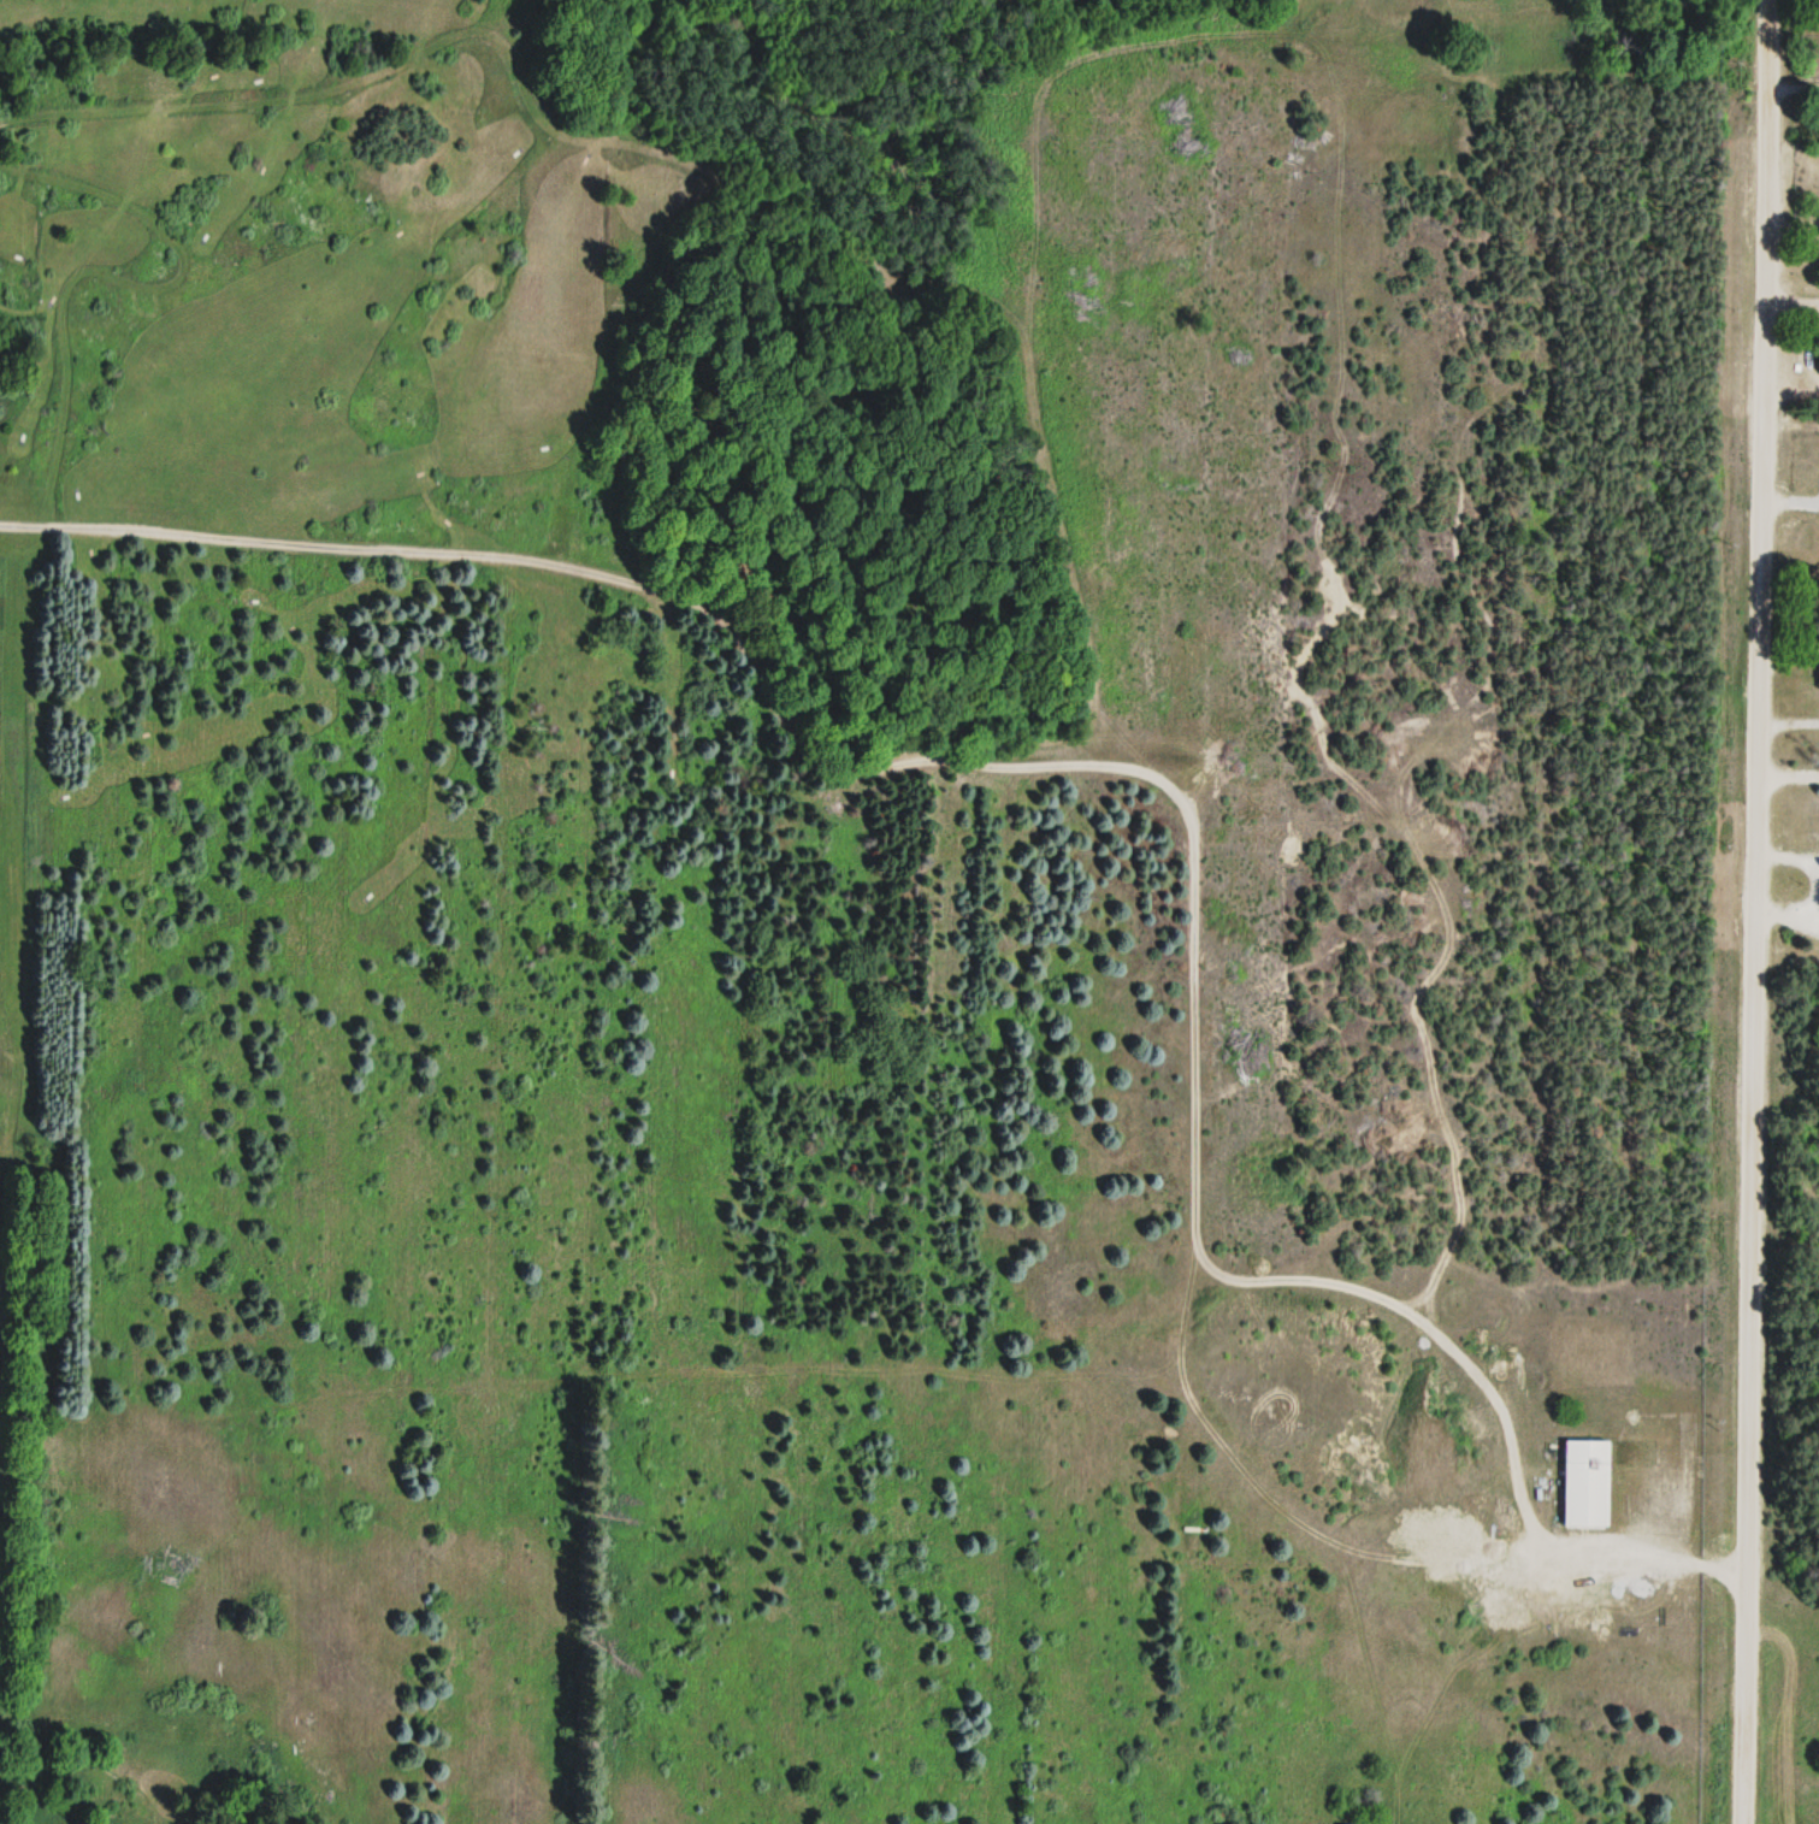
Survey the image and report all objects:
road: (1791, 163)
road: (1793, 305)
road: (1134, 772)
road: (1788, 778)
road: (1754, 911)
building: (1636, 1454)
building: (1587, 1486)

